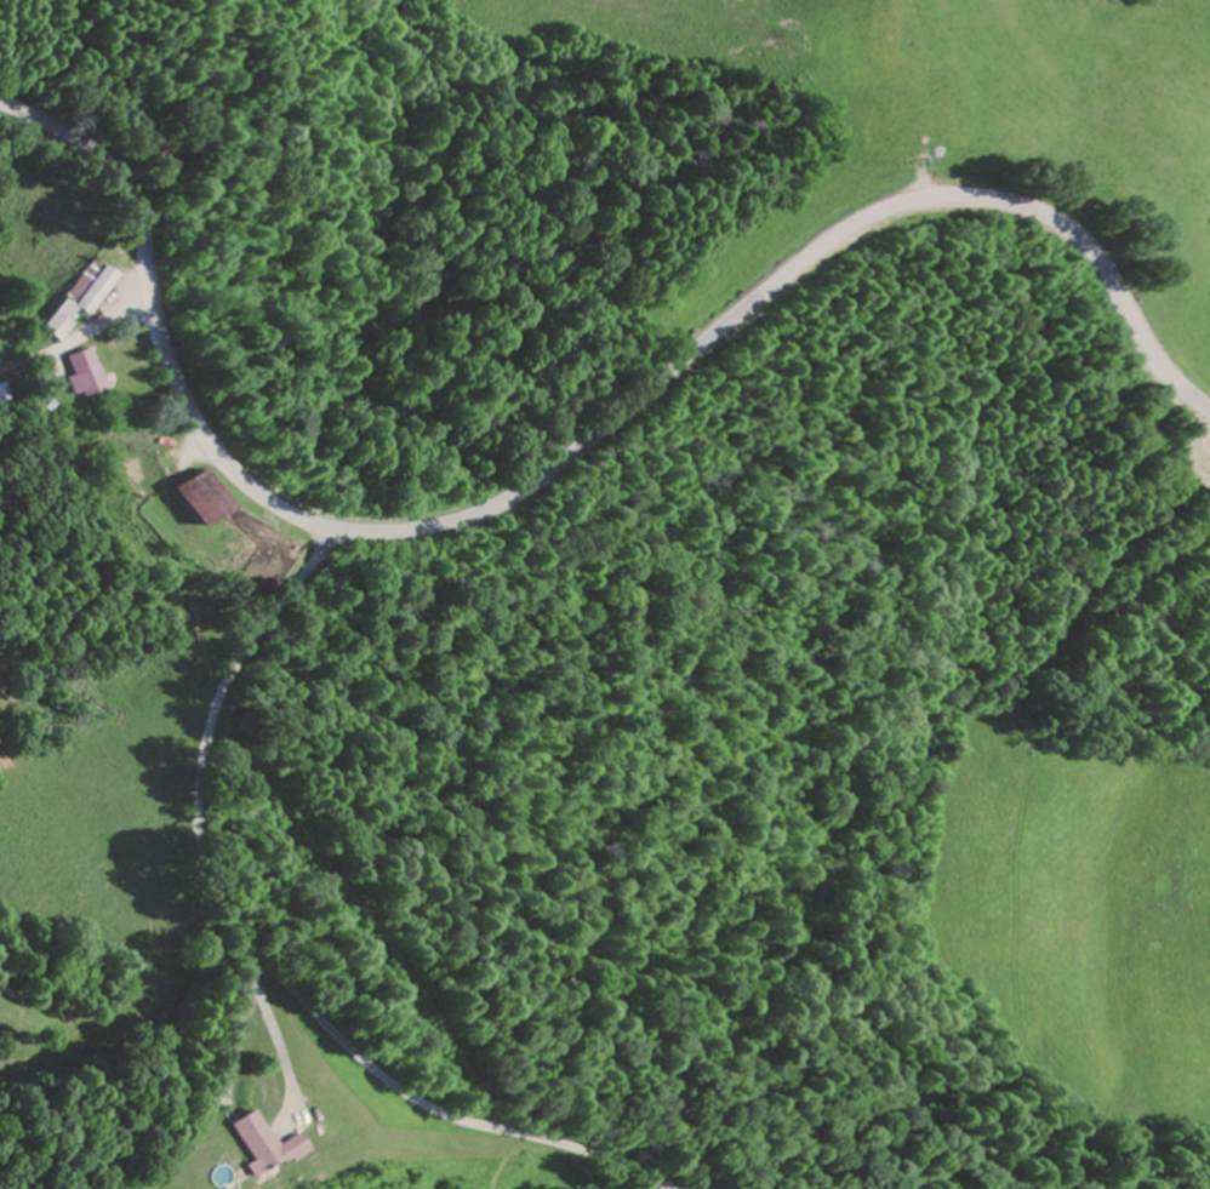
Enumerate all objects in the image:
building: (81, 298)
building: (86, 372)
road: (563, 458)
building: (201, 498)
road: (257, 959)
building: (268, 1144)

